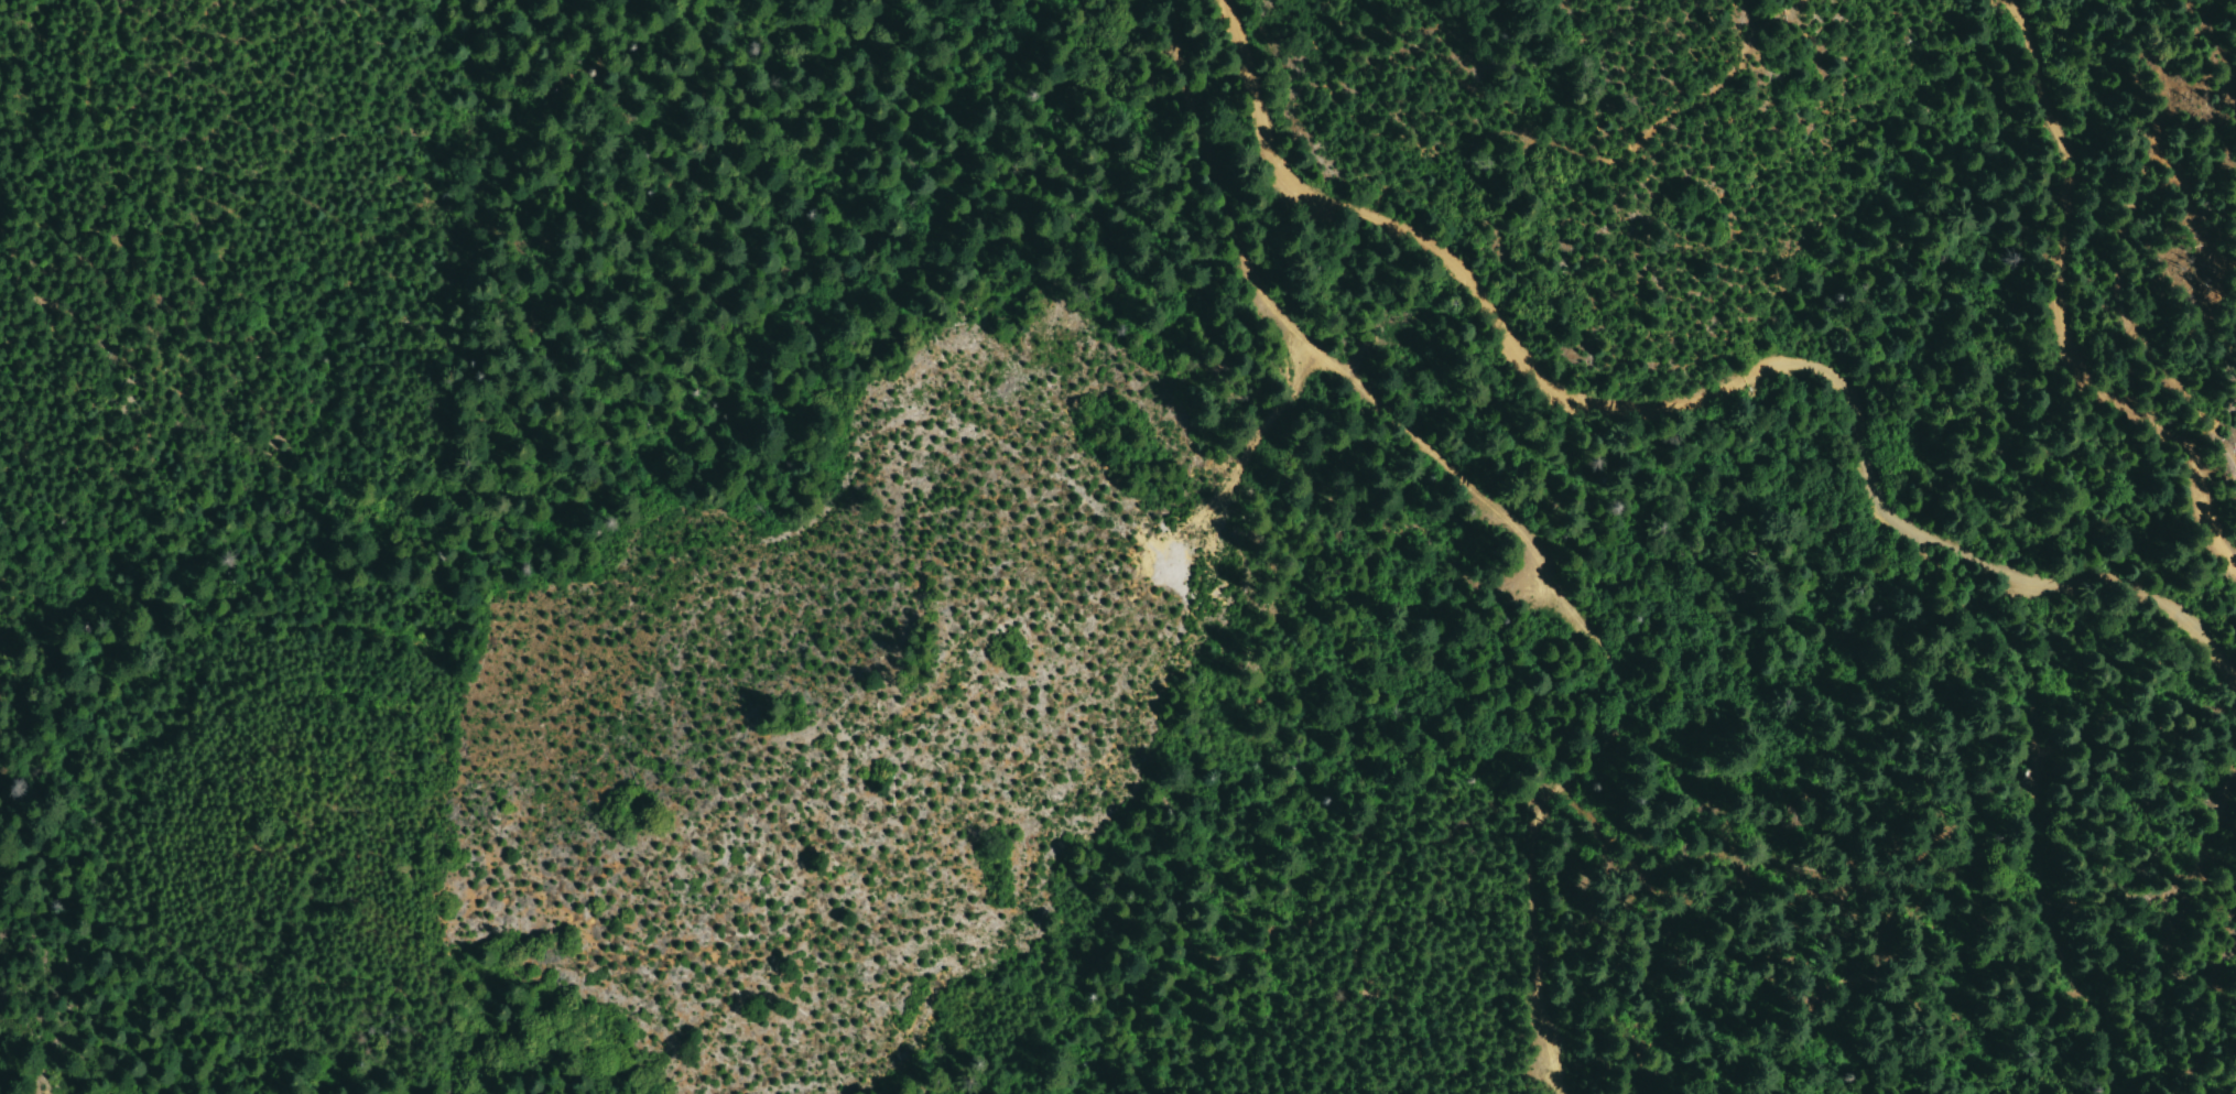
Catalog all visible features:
road: (2056, 308)
road: (1701, 399)
road: (1512, 520)

